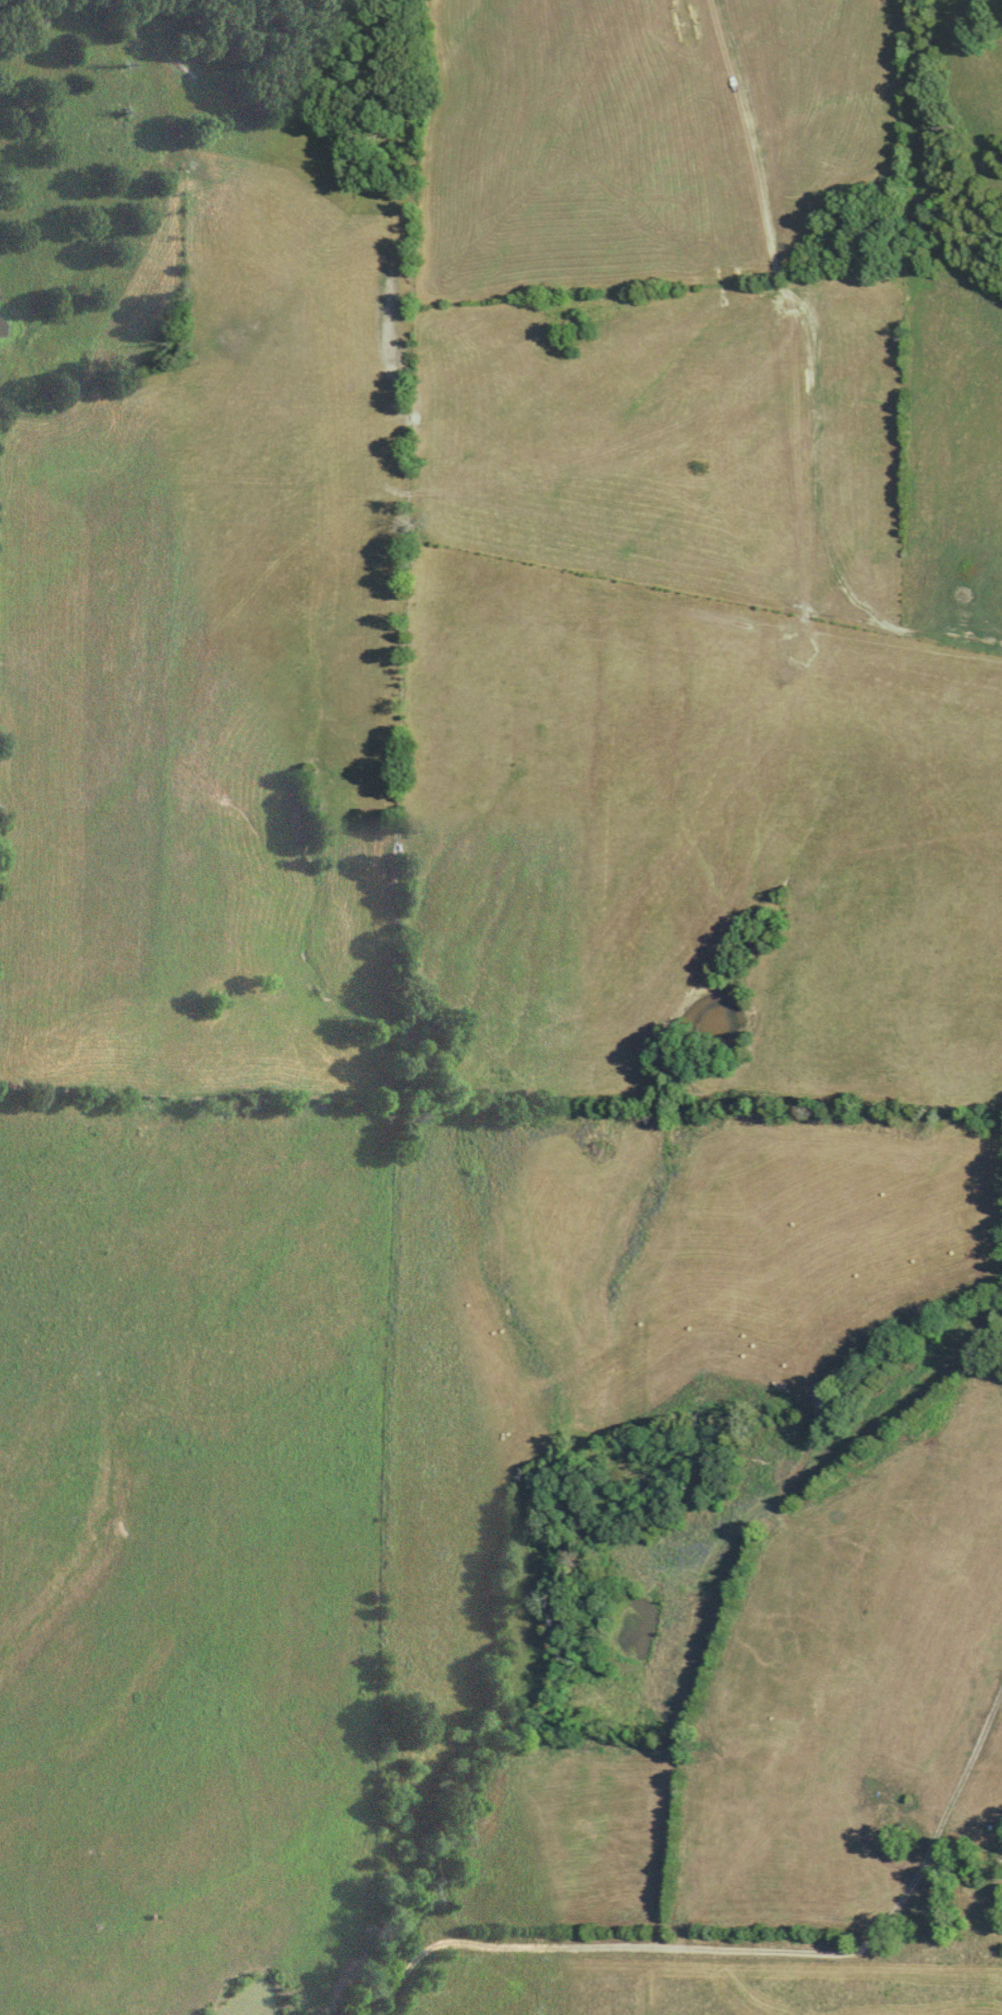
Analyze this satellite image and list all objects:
road: (677, 1951)

